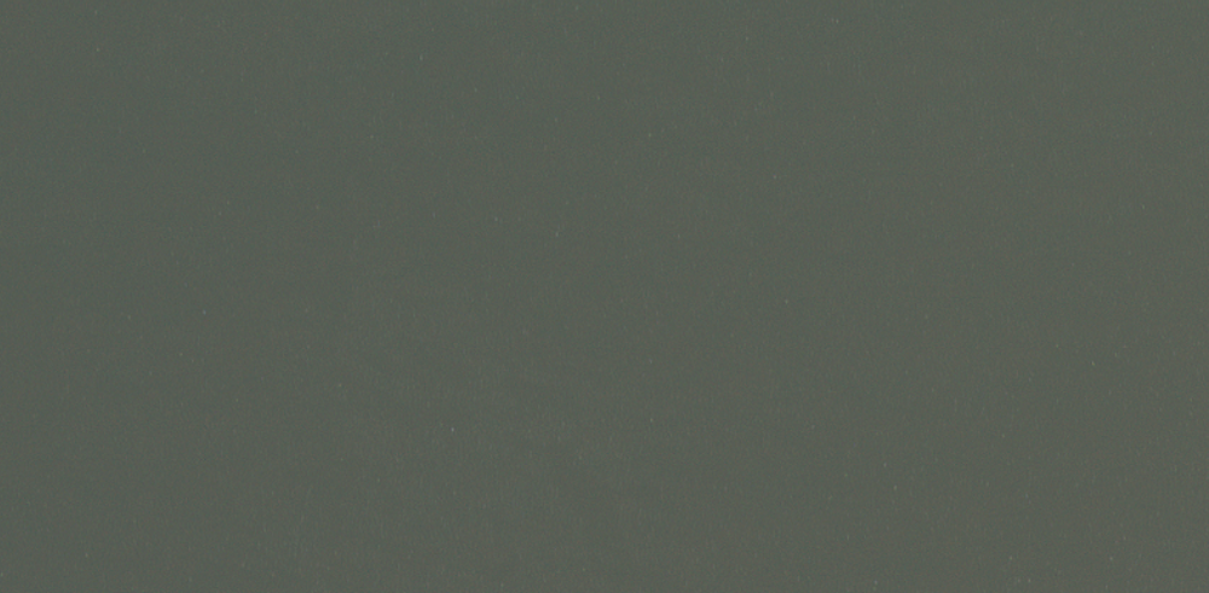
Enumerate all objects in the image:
river: (604, 331)

